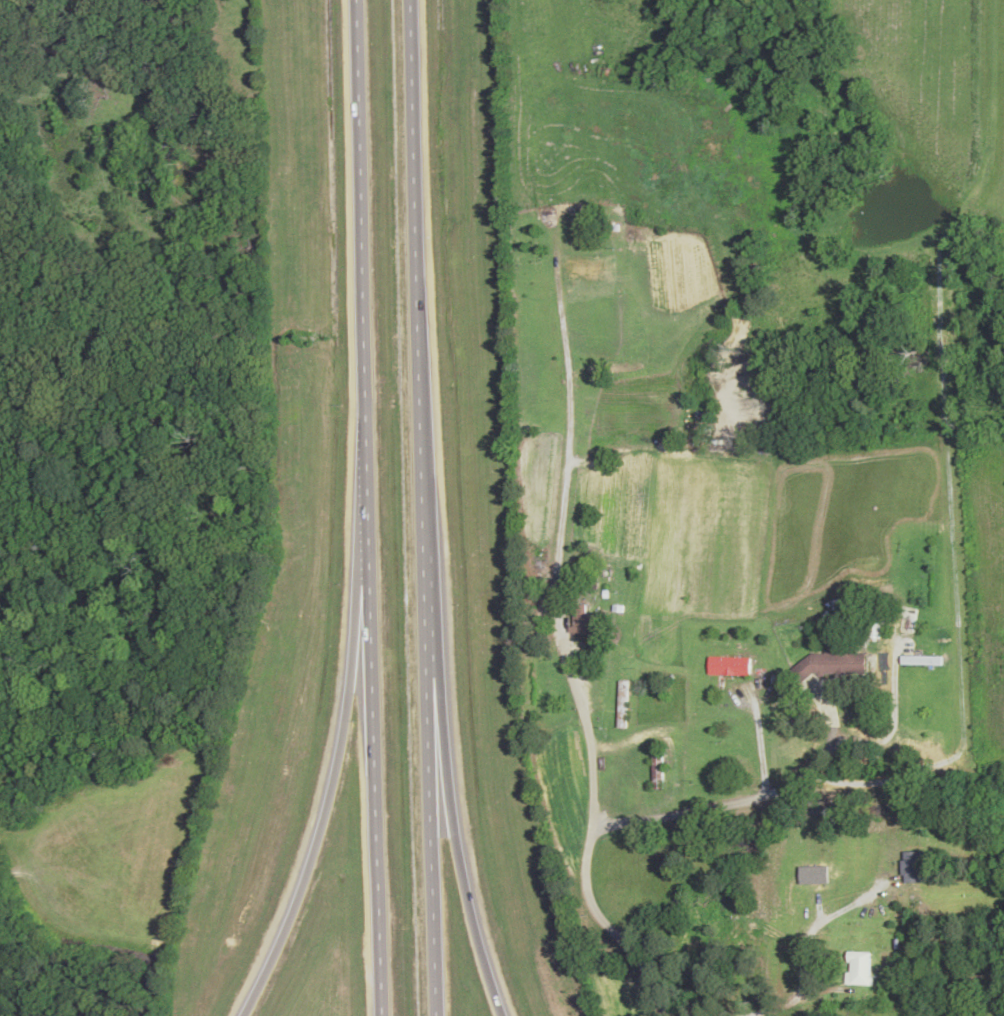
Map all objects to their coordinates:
road: (356, 219)
road: (411, 234)
building: (590, 622)
building: (922, 661)
building: (833, 664)
building: (730, 666)
road: (371, 727)
road: (338, 735)
road: (427, 741)
road: (443, 744)
building: (658, 765)
road: (737, 800)
road: (592, 828)
building: (912, 868)
building: (859, 969)

